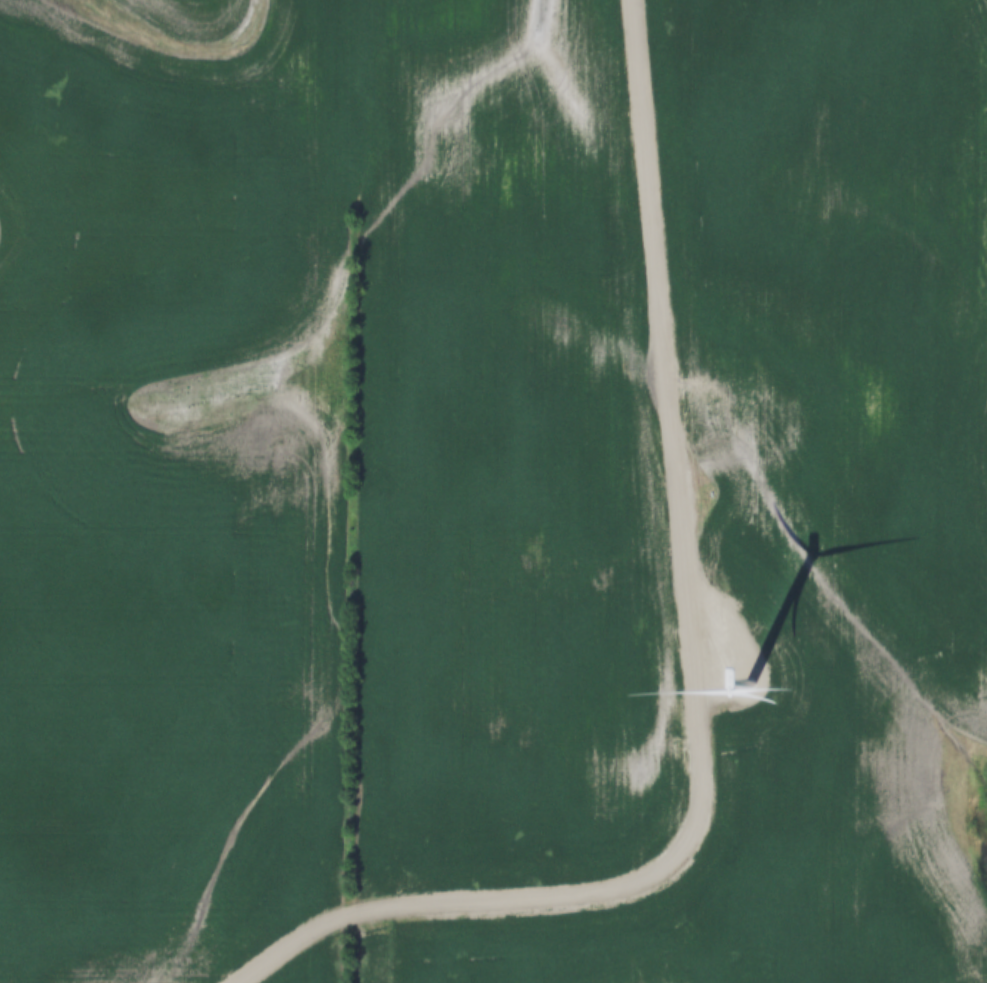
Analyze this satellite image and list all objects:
wind turbine: (742, 684)

